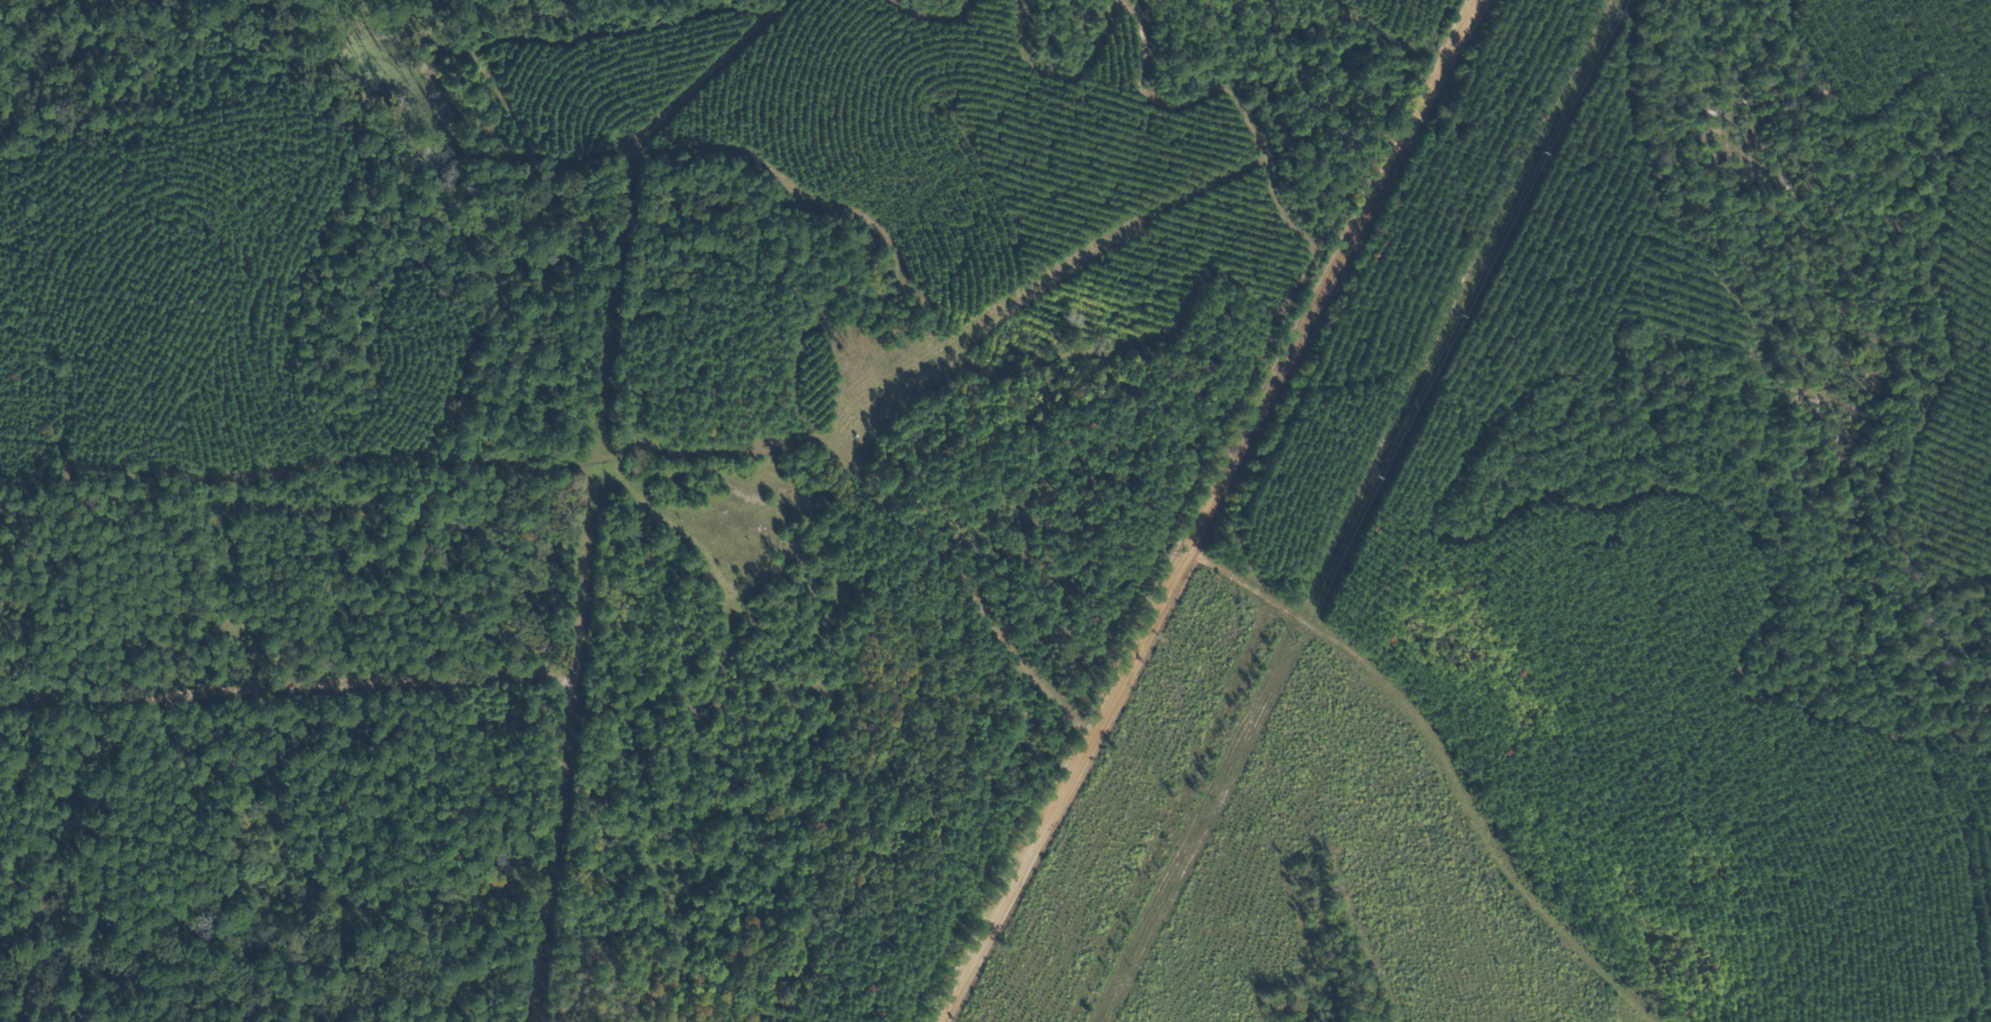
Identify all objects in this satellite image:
road: (1220, 512)

